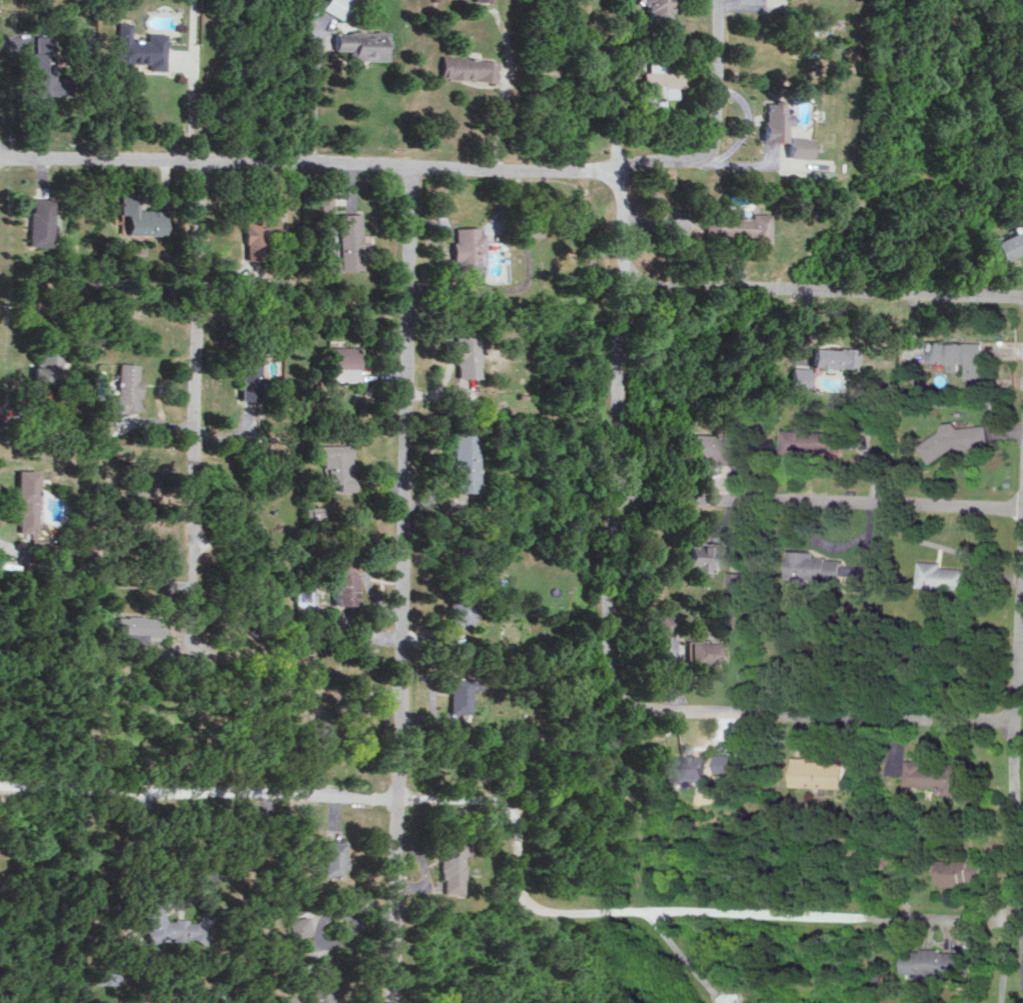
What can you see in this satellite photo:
building: (337, 6)
building: (656, 8)
building: (363, 43)
building: (142, 47)
building: (46, 67)
building: (466, 67)
building: (662, 87)
road: (314, 93)
road: (193, 98)
building: (774, 120)
road: (712, 125)
building: (796, 146)
road: (305, 161)
building: (323, 195)
building: (136, 216)
building: (37, 220)
building: (733, 223)
building: (528, 226)
building: (256, 234)
building: (349, 240)
building: (1011, 242)
building: (465, 249)
road: (827, 294)
building: (459, 354)
building: (960, 355)
building: (837, 356)
building: (343, 362)
building: (42, 367)
building: (249, 375)
building: (802, 377)
building: (123, 389)
road: (192, 416)
road: (620, 434)
building: (958, 438)
building: (813, 439)
building: (712, 446)
building: (462, 459)
building: (337, 463)
building: (25, 499)
road: (820, 500)
building: (312, 512)
building: (705, 554)
building: (815, 565)
road: (21, 567)
building: (946, 575)
building: (342, 580)
building: (738, 581)
road: (399, 583)
building: (458, 601)
building: (261, 616)
building: (666, 621)
building: (135, 624)
building: (705, 652)
building: (458, 692)
road: (816, 712)
building: (317, 742)
road: (1017, 758)
building: (727, 762)
building: (694, 766)
building: (822, 772)
building: (937, 776)
building: (618, 788)
building: (875, 823)
road: (519, 835)
building: (333, 857)
building: (451, 867)
building: (961, 871)
road: (194, 889)
road: (322, 918)
road: (1017, 924)
building: (178, 925)
building: (299, 926)
building: (934, 963)
building: (107, 974)
building: (322, 982)

